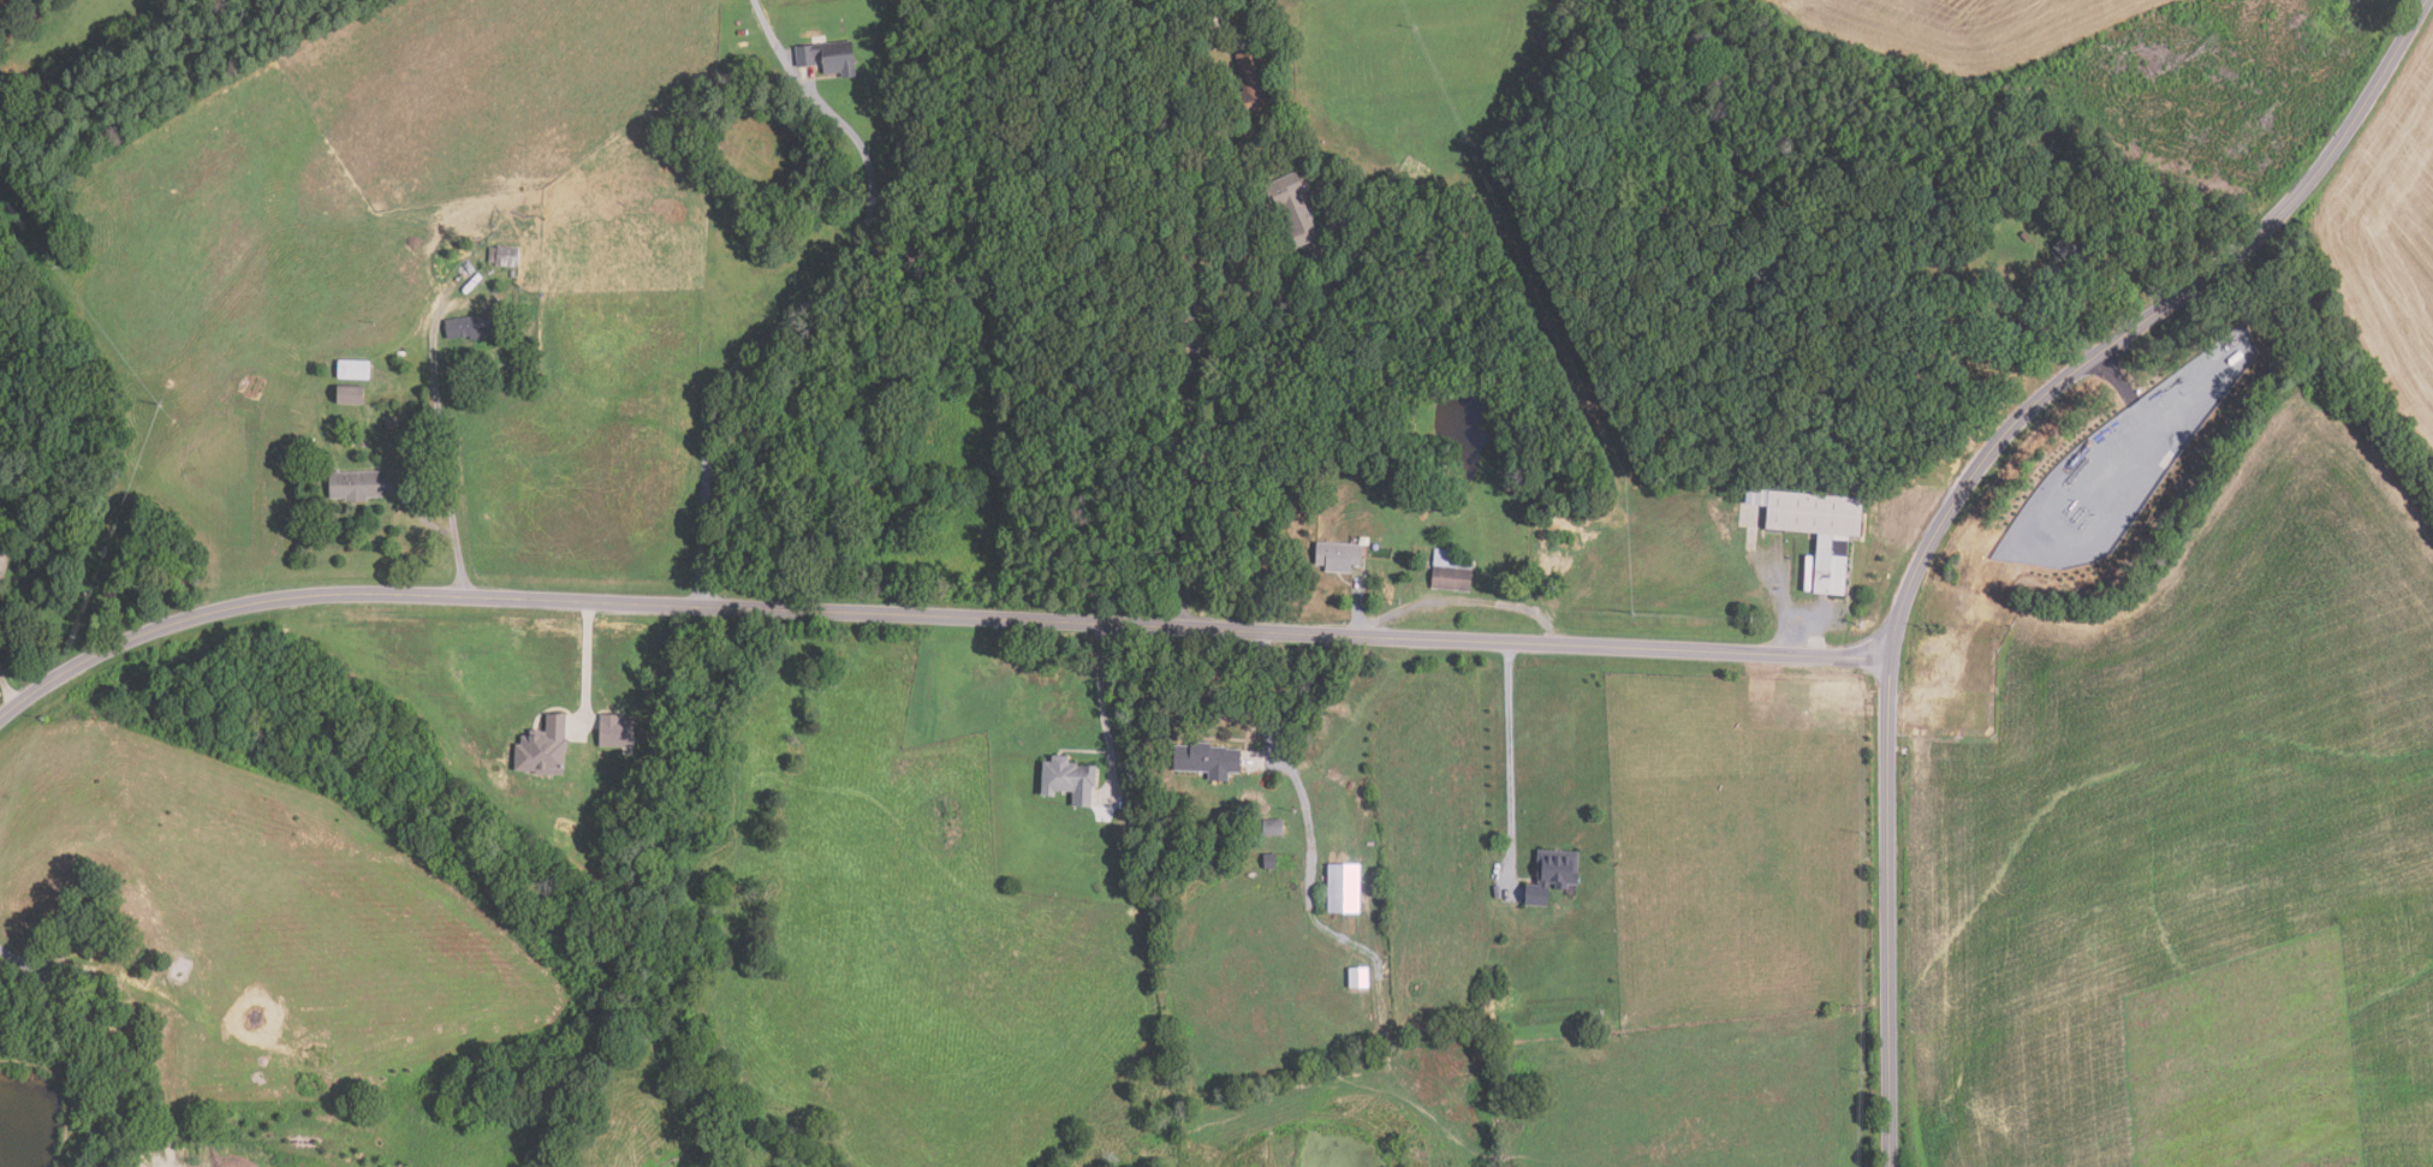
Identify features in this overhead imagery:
building: (1231, 1)
road: (1227, 28)
road: (2403, 32)
road: (779, 52)
building: (833, 56)
building: (1255, 83)
river: (779, 162)
building: (1297, 208)
building: (2023, 236)
building: (2069, 250)
building: (505, 256)
road: (1255, 302)
road: (1191, 323)
building: (2030, 323)
building: (474, 326)
road: (772, 334)
building: (356, 369)
road: (2058, 380)
building: (351, 393)
river: (1467, 413)
building: (393, 422)
road: (444, 452)
building: (357, 486)
road: (426, 520)
building: (1820, 529)
building: (1342, 556)
building: (1452, 571)
road: (1471, 600)
road: (1789, 603)
road: (1357, 607)
road: (932, 613)
road: (585, 661)
road: (7, 687)
road: (1260, 693)
road: (1101, 707)
building: (619, 731)
building: (547, 749)
building: (1212, 761)
road: (1510, 764)
building: (1072, 780)
building: (1135, 824)
building: (1275, 828)
building: (1272, 862)
building: (1554, 876)
building: (1346, 889)
building: (83, 942)
road: (19, 958)
road: (1887, 975)
building: (1361, 977)
river: (38, 1129)
building: (2225, 1147)

